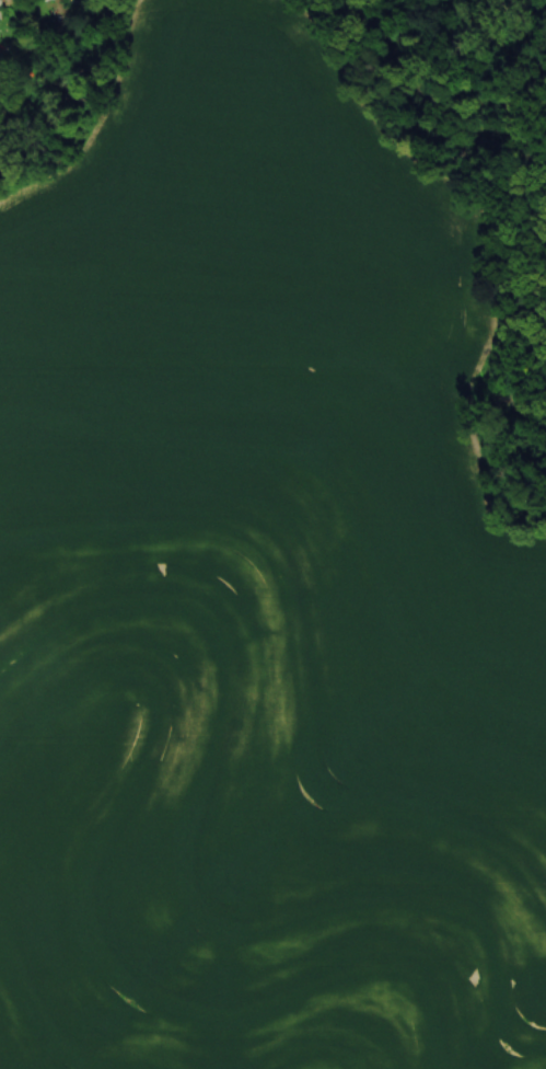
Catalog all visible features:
building: (0, 33)

